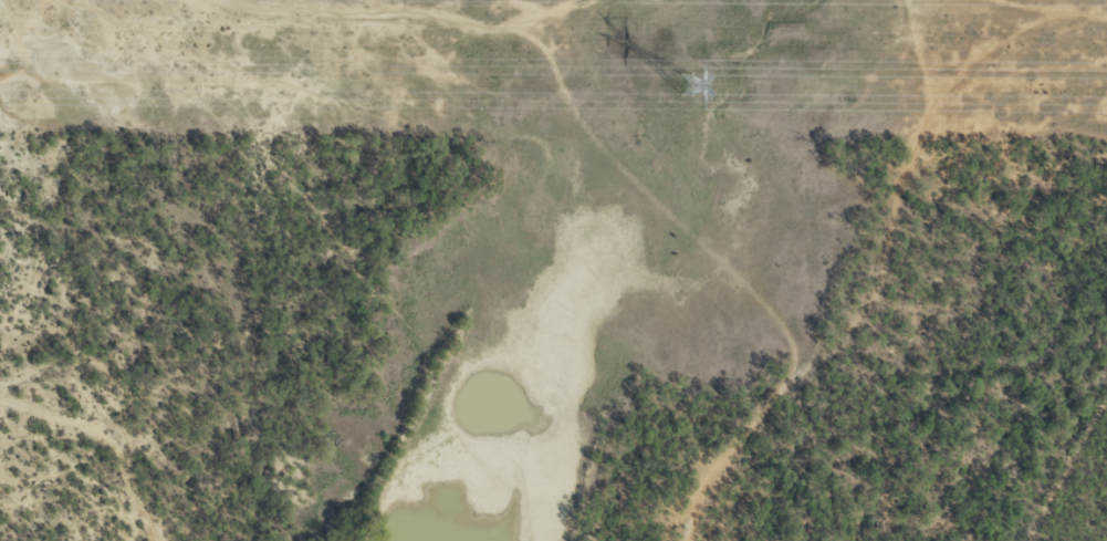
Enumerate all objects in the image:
power tower: (687, 84)

